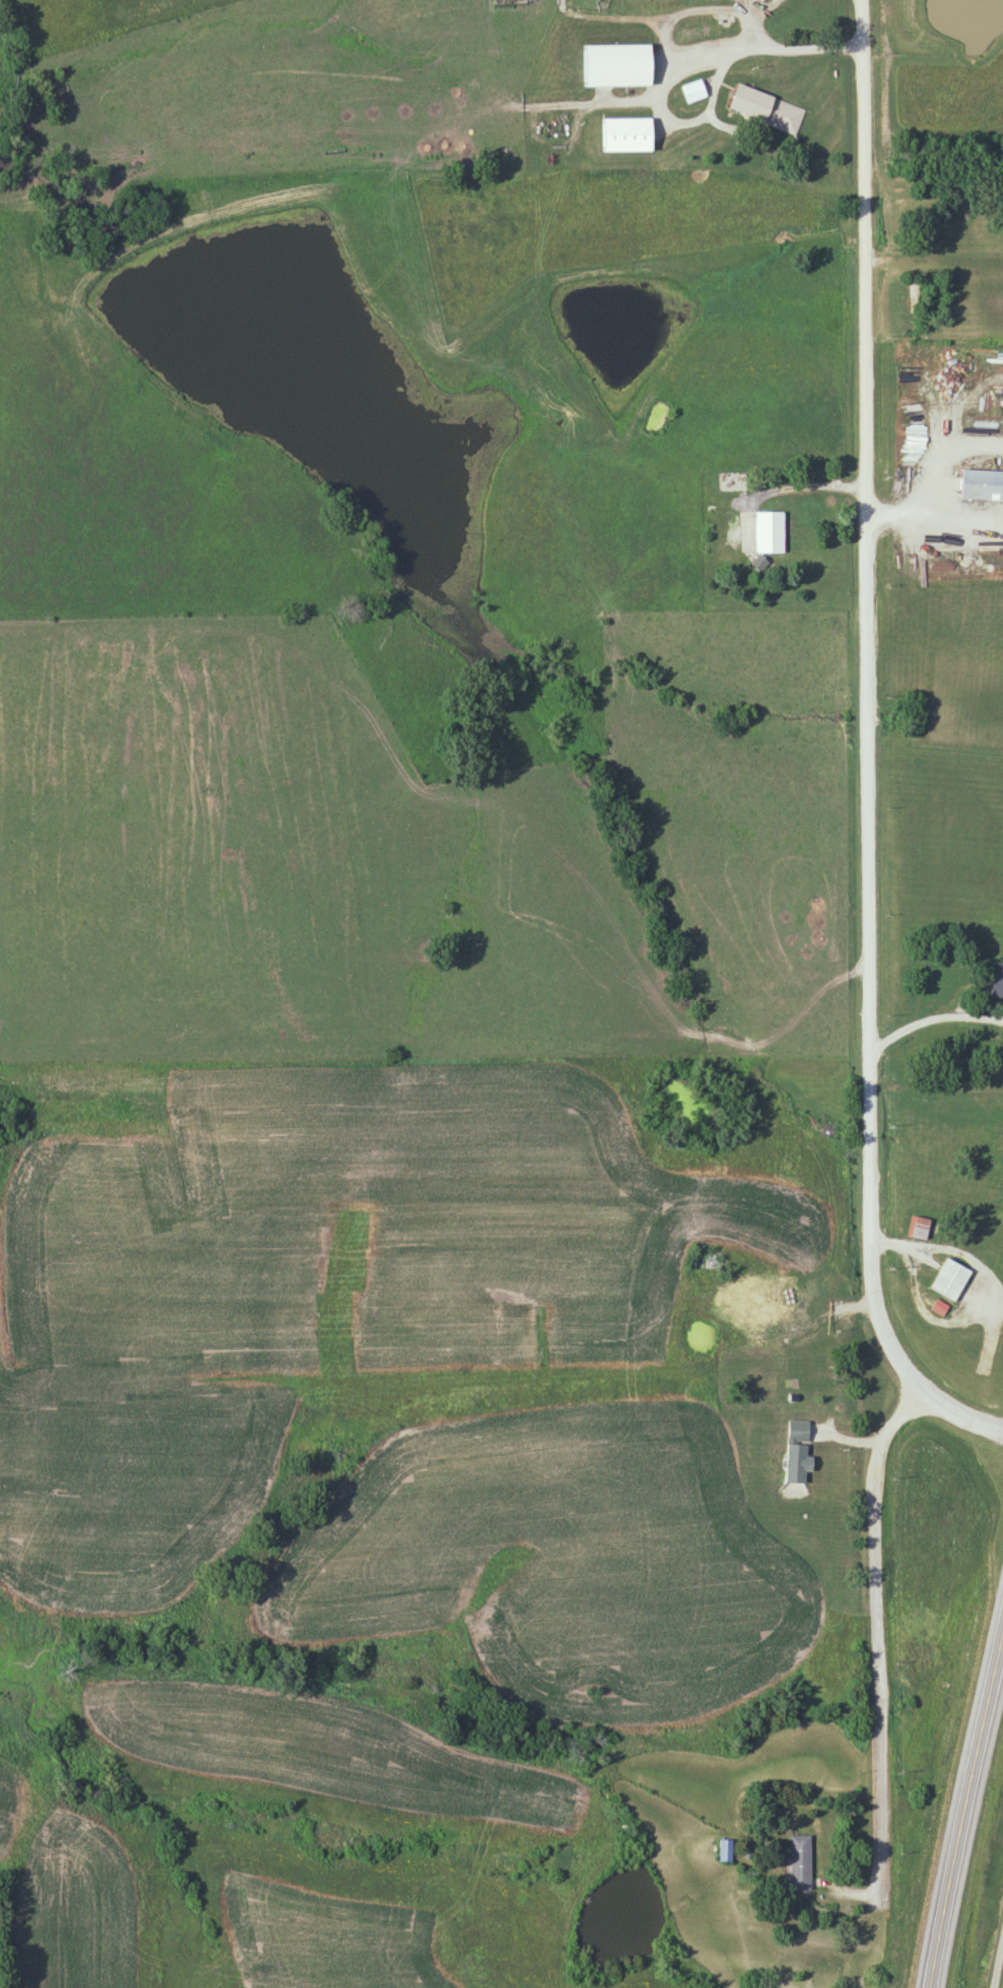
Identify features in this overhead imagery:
road: (795, 52)
building: (617, 67)
building: (694, 92)
road: (661, 96)
building: (769, 111)
building: (627, 135)
road: (934, 265)
building: (732, 482)
road: (928, 482)
building: (982, 487)
road: (810, 489)
road: (892, 522)
building: (773, 532)
road: (866, 749)
building: (998, 982)
road: (925, 1023)
building: (920, 1228)
building: (710, 1261)
building: (950, 1280)
building: (793, 1311)
road: (795, 1316)
building: (756, 1335)
building: (793, 1382)
road: (876, 1669)
road: (964, 1813)
building: (799, 1863)
road: (998, 1966)

